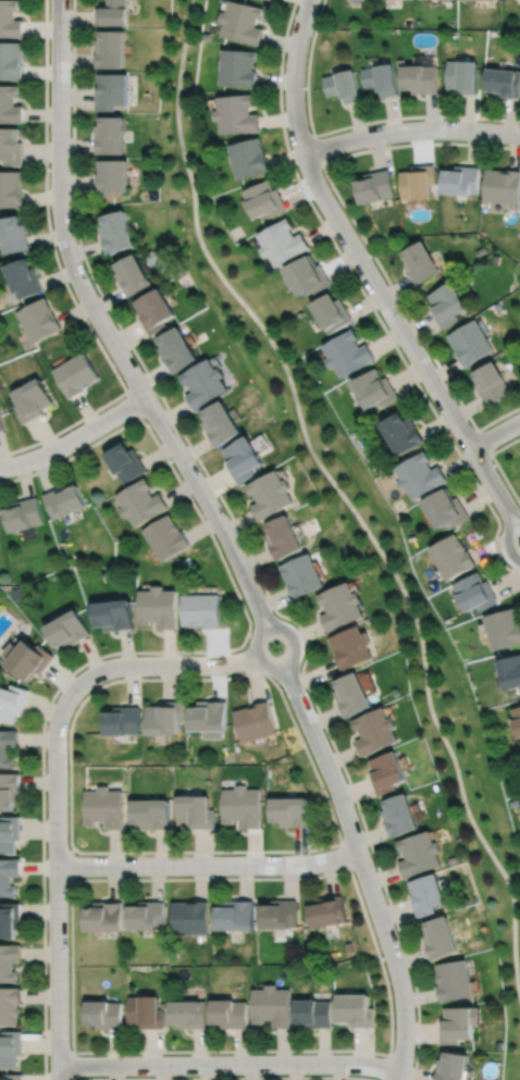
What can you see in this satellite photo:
building: (112, 12)
street lamp: (295, 12)
building: (11, 18)
building: (243, 22)
street lamp: (70, 29)
building: (111, 49)
building: (12, 60)
building: (239, 67)
building: (465, 75)
building: (382, 78)
building: (421, 78)
building: (505, 82)
building: (344, 85)
building: (112, 90)
building: (11, 103)
building: (237, 114)
road: (347, 126)
road: (410, 131)
street lamp: (311, 132)
building: (110, 135)
street lamp: (391, 144)
building: (12, 146)
road: (317, 149)
building: (250, 158)
street lamp: (47, 165)
building: (112, 177)
building: (463, 181)
building: (419, 183)
building: (503, 186)
building: (376, 187)
building: (12, 188)
building: (267, 200)
building: (116, 233)
road: (358, 233)
building: (14, 235)
street lamp: (334, 237)
building: (283, 243)
road: (360, 260)
building: (422, 263)
street lamp: (85, 270)
road: (60, 274)
building: (133, 276)
building: (309, 276)
building: (24, 278)
road: (367, 299)
building: (449, 305)
building: (498, 308)
building: (156, 312)
building: (333, 313)
building: (38, 320)
road: (104, 330)
building: (471, 343)
street lamp: (400, 348)
building: (176, 351)
building: (349, 355)
building: (76, 375)
building: (205, 384)
building: (492, 384)
street lamp: (126, 386)
building: (376, 390)
building: (33, 401)
road: (133, 406)
building: (2, 421)
building: (221, 425)
street lamp: (471, 425)
street lamp: (74, 426)
building: (405, 434)
road: (495, 434)
road: (74, 438)
road: (483, 442)
building: (244, 460)
road: (496, 463)
building: (125, 464)
street lamp: (198, 465)
building: (422, 476)
building: (270, 494)
road: (343, 496)
building: (63, 497)
building: (140, 501)
park: (345, 508)
building: (447, 508)
road: (510, 508)
building: (22, 511)
road: (507, 533)
building: (284, 534)
building: (165, 535)
road: (244, 539)
building: (454, 554)
street lamp: (503, 556)
building: (186, 561)
street lamp: (253, 572)
building: (302, 572)
building: (476, 589)
building: (16, 593)
building: (342, 604)
building: (158, 605)
building: (201, 608)
building: (113, 612)
building: (504, 625)
building: (67, 626)
building: (351, 646)
road: (150, 651)
road: (294, 655)
building: (26, 656)
street lamp: (102, 658)
road: (160, 665)
building: (510, 669)
street lamp: (226, 673)
street lamp: (306, 691)
building: (354, 693)
building: (11, 700)
building: (163, 716)
building: (208, 717)
building: (517, 718)
building: (122, 719)
building: (255, 720)
road: (296, 728)
building: (376, 729)
building: (7, 745)
street lamp: (46, 770)
building: (388, 771)
building: (9, 790)
building: (242, 805)
street lamp: (355, 805)
building: (103, 807)
building: (195, 810)
building: (290, 810)
building: (150, 812)
building: (401, 814)
building: (9, 832)
street lamp: (264, 853)
building: (421, 853)
street lamp: (128, 854)
road: (345, 855)
road: (70, 861)
road: (208, 864)
road: (363, 868)
building: (8, 876)
road: (57, 883)
building: (429, 894)
street lamp: (46, 897)
road: (359, 897)
building: (327, 910)
building: (146, 915)
building: (280, 915)
building: (103, 916)
building: (235, 916)
building: (189, 917)
building: (9, 919)
building: (443, 938)
building: (348, 947)
street lamp: (379, 948)
building: (9, 961)
building: (455, 980)
building: (9, 1006)
building: (272, 1006)
building: (356, 1010)
building: (145, 1013)
building: (314, 1013)
building: (188, 1014)
building: (230, 1014)
building: (103, 1015)
building: (459, 1025)
street lamp: (414, 1045)
street lamp: (69, 1047)
building: (10, 1048)
street lamp: (334, 1052)
street lamp: (210, 1054)
road: (228, 1063)
road: (72, 1066)
road: (386, 1066)
building: (455, 1067)
building: (12, 1077)
road: (226, 1077)

